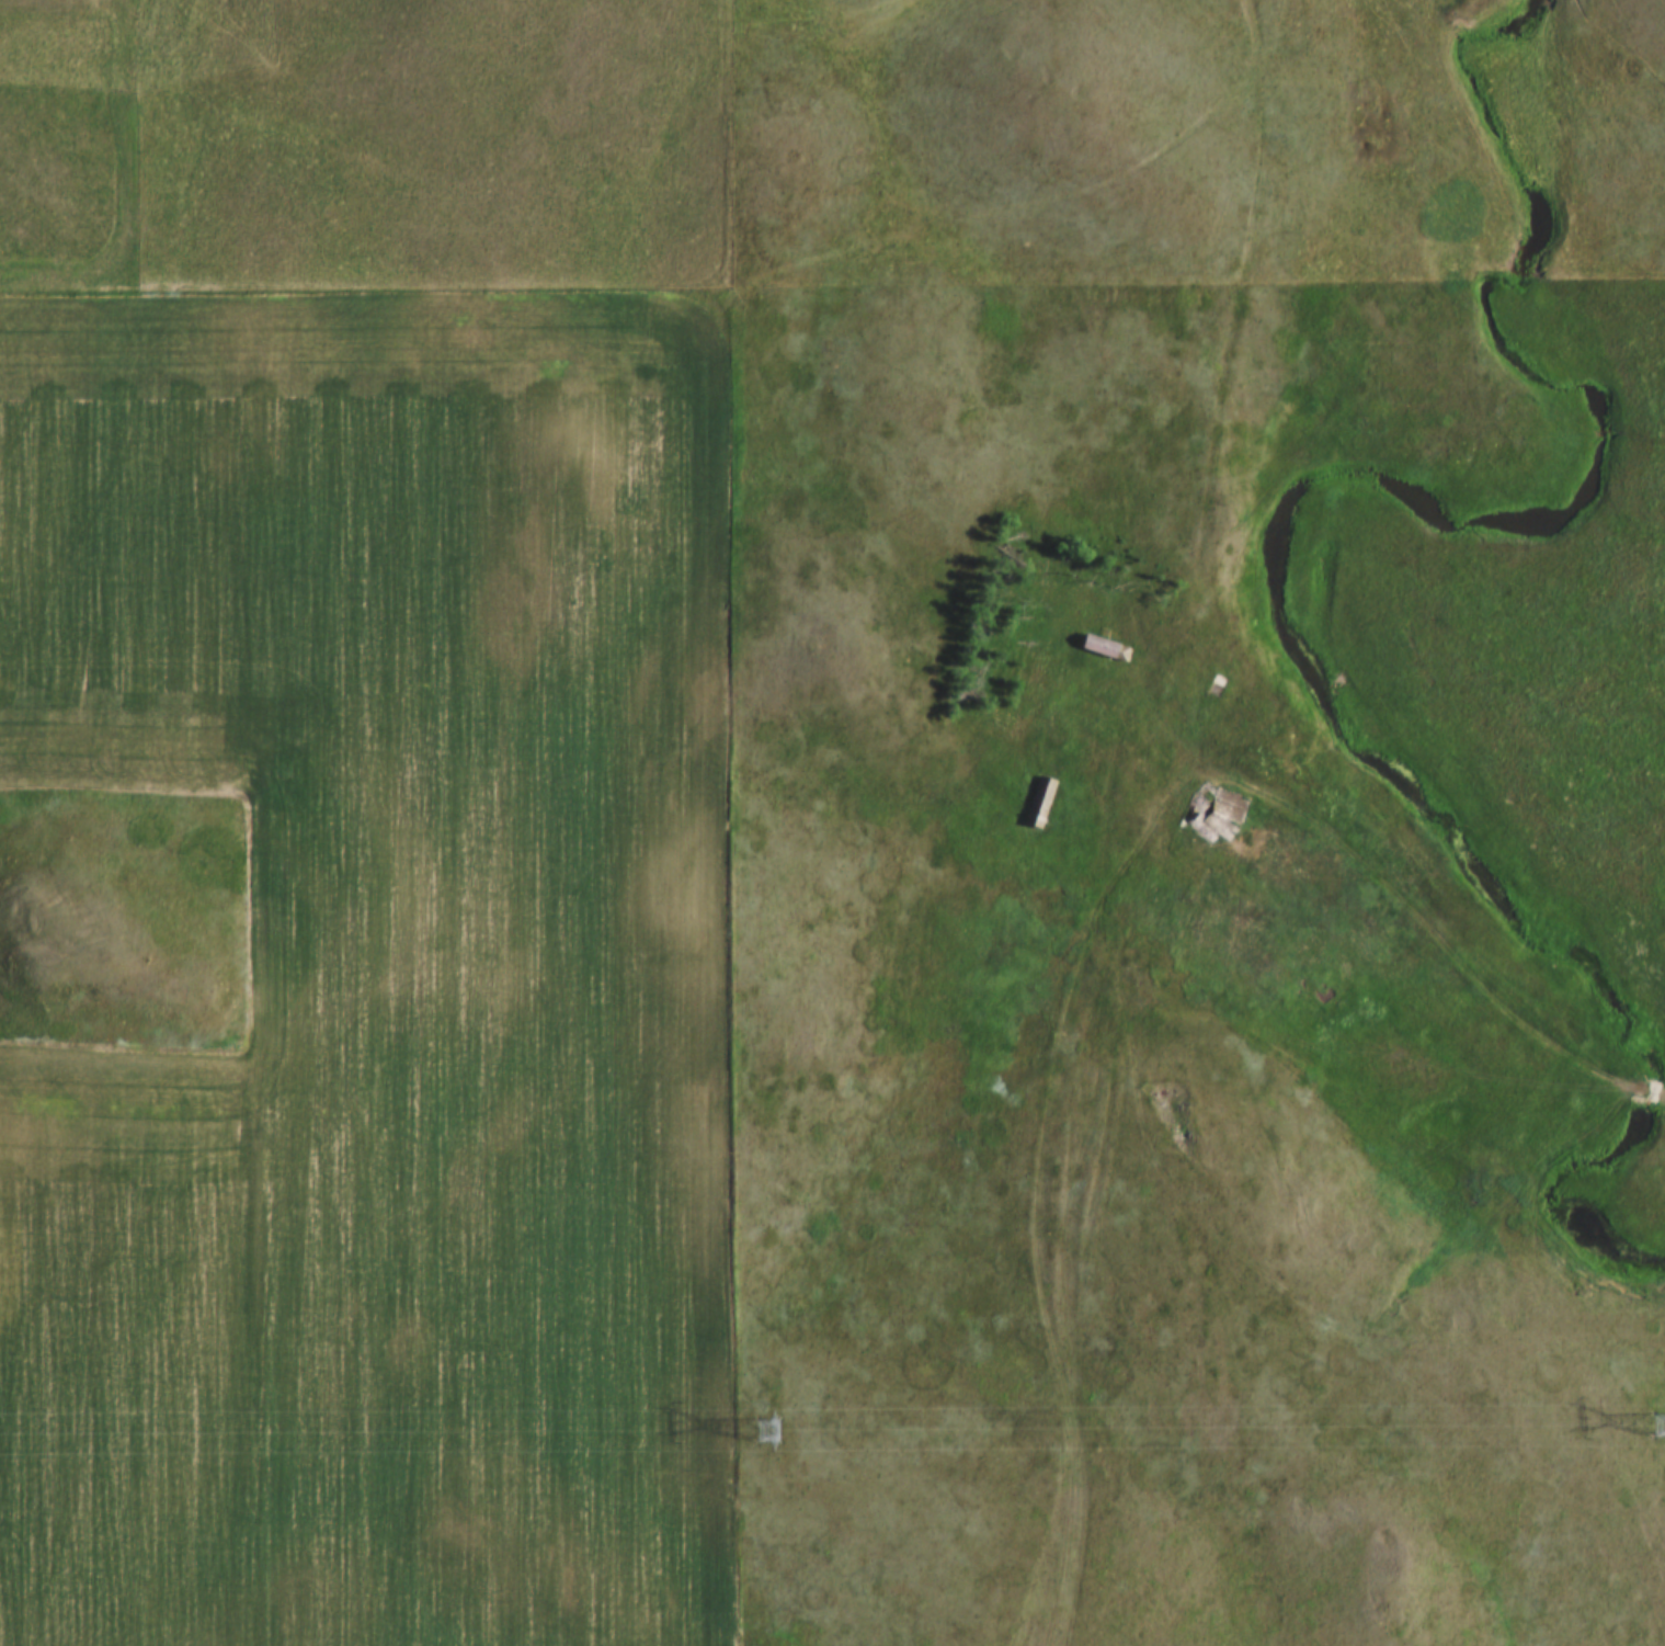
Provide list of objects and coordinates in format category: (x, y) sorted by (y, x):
road: (129, 192)
building: (1040, 791)
building: (1199, 805)
road: (1099, 911)
power tower: (1656, 1437)
power tower: (768, 1441)

